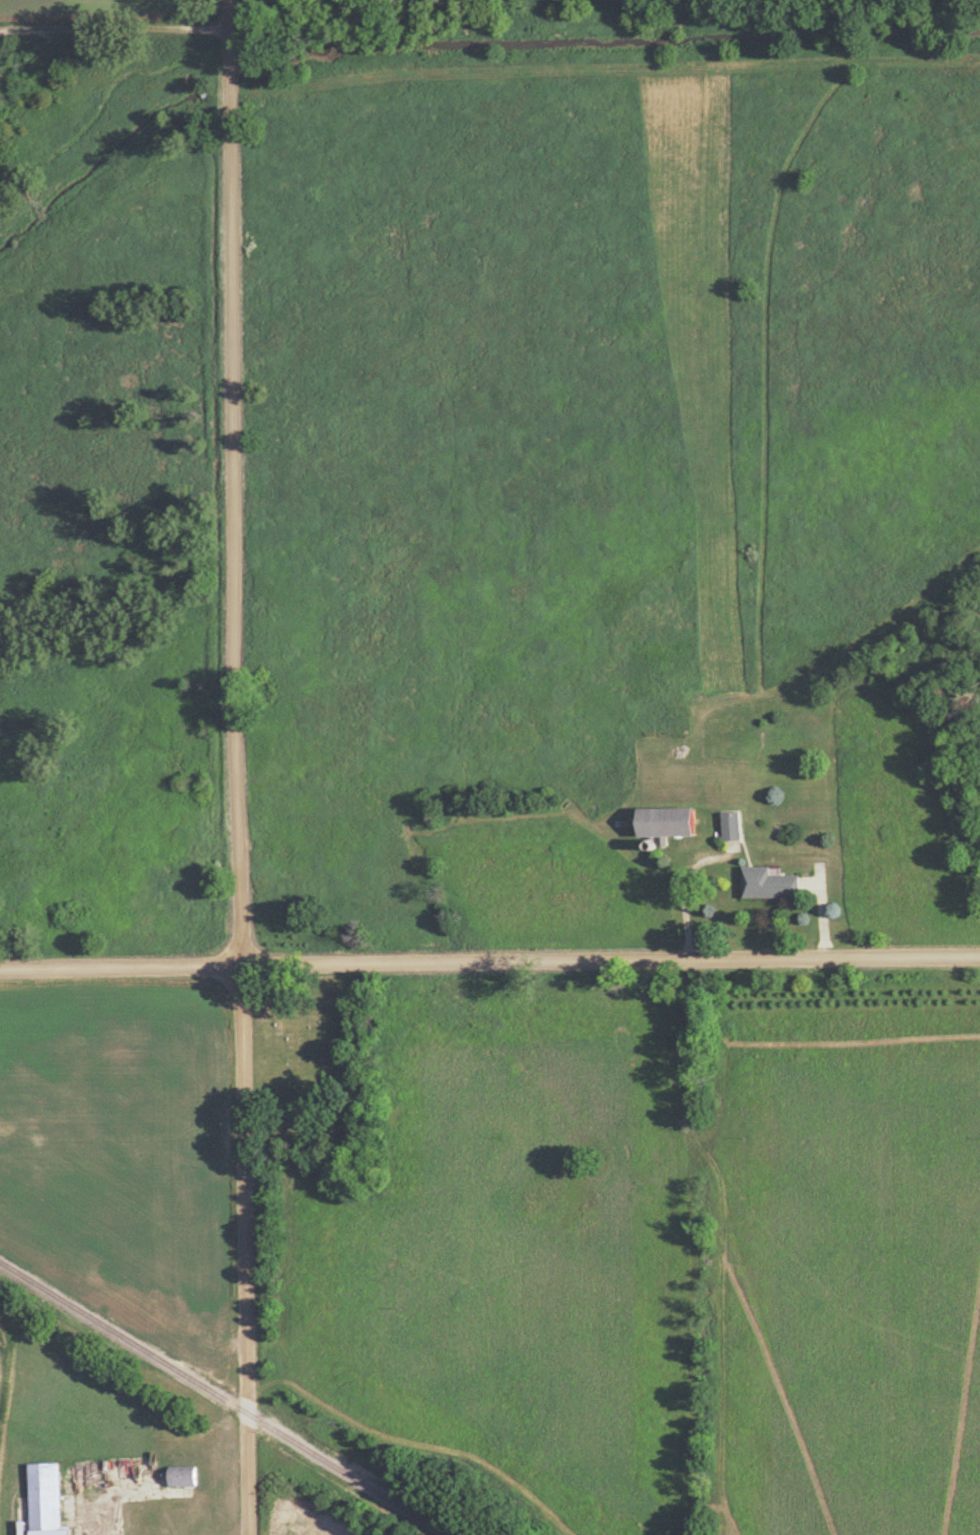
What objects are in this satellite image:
road: (114, 33)
road: (239, 767)
building: (671, 823)
building: (733, 827)
building: (772, 885)
road: (489, 962)
park: (320, 1061)
railway: (226, 1397)
building: (185, 1478)
road: (99, 1492)
building: (45, 1499)
building: (54, 1534)

